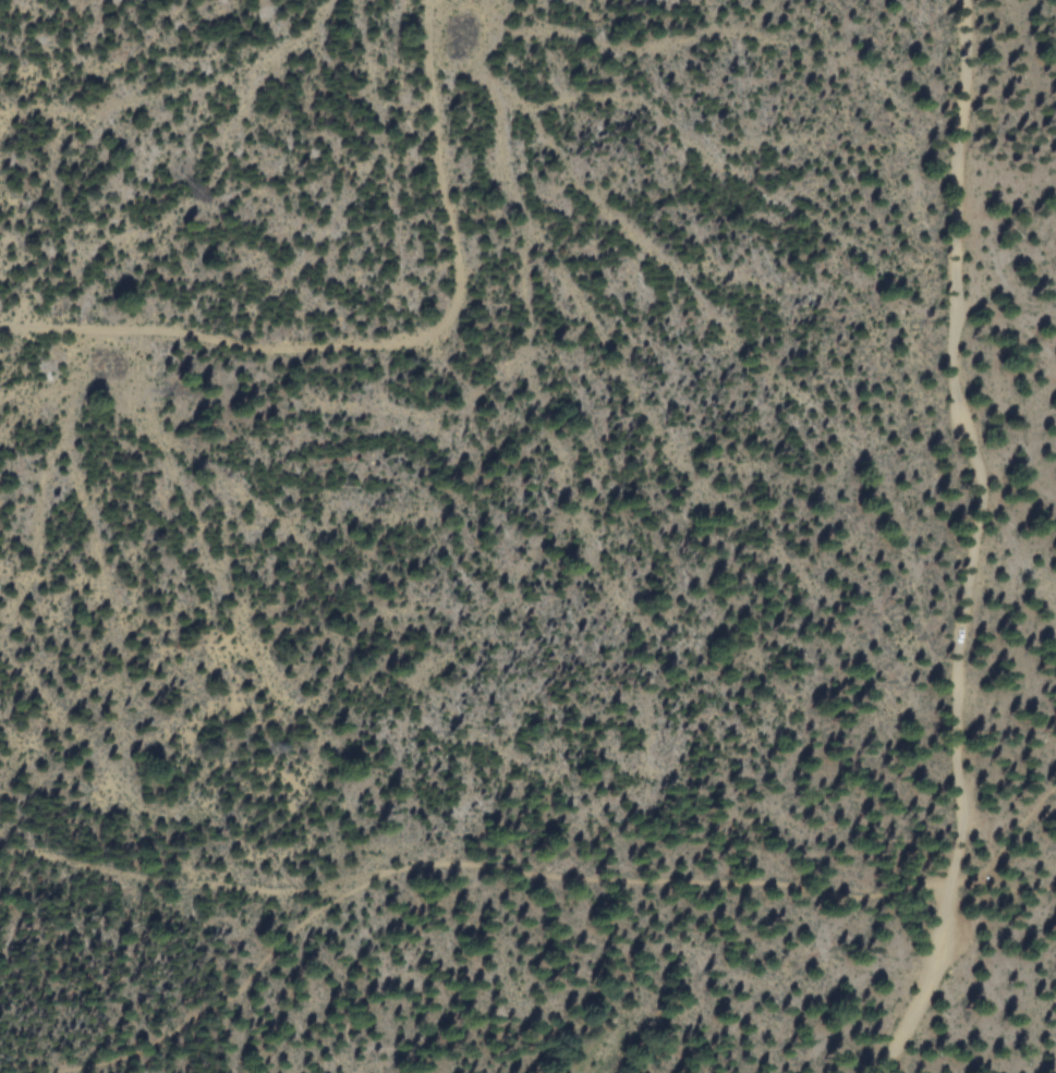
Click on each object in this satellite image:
road: (392, 347)
road: (974, 443)
road: (1003, 841)
road: (469, 867)
road: (190, 882)
road: (1003, 890)
road: (925, 985)

